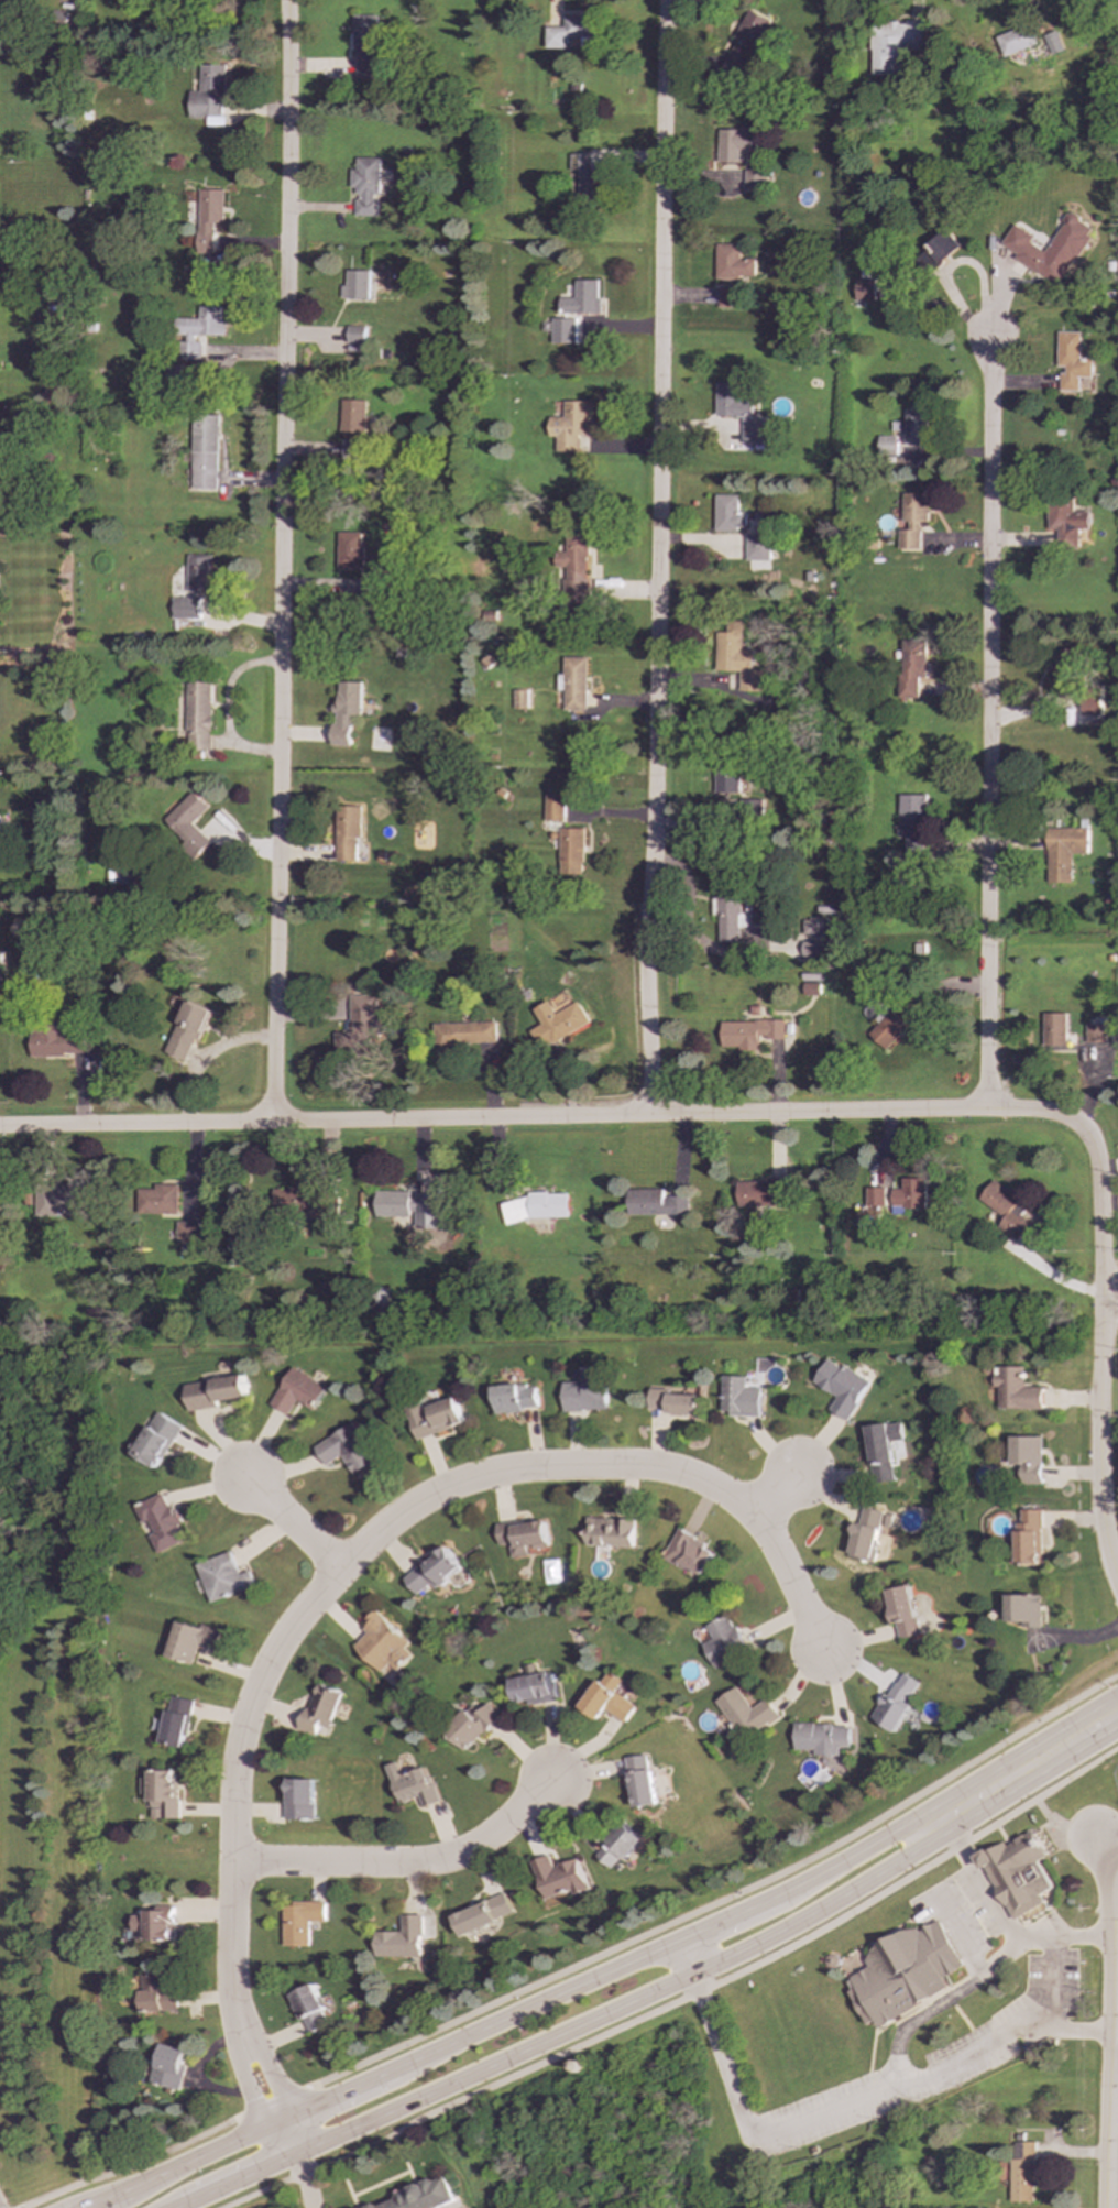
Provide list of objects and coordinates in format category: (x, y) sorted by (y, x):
building: (572, 32)
building: (1018, 40)
building: (745, 43)
building: (895, 43)
building: (1055, 43)
building: (363, 45)
building: (206, 96)
building: (737, 143)
building: (584, 178)
building: (755, 179)
building: (362, 186)
building: (206, 218)
building: (944, 245)
building: (1050, 249)
building: (733, 263)
road: (954, 266)
building: (353, 285)
building: (864, 288)
building: (581, 297)
building: (728, 297)
road: (922, 305)
road: (1002, 305)
building: (196, 330)
building: (562, 330)
building: (353, 335)
building: (1070, 361)
road: (1024, 385)
building: (739, 413)
building: (351, 416)
building: (568, 426)
building: (916, 427)
building: (888, 445)
building: (349, 449)
building: (202, 452)
road: (953, 455)
building: (727, 513)
building: (912, 521)
building: (1065, 523)
road: (989, 543)
building: (756, 547)
building: (349, 549)
road: (656, 557)
road: (278, 560)
building: (573, 565)
building: (198, 573)
building: (369, 587)
building: (185, 608)
building: (736, 657)
building: (910, 666)
building: (1064, 666)
building: (573, 682)
road: (952, 691)
building: (518, 699)
building: (1088, 703)
road: (1032, 707)
building: (346, 711)
building: (198, 714)
road: (987, 721)
building: (726, 778)
building: (553, 807)
building: (187, 822)
building: (912, 826)
building: (346, 831)
road: (986, 846)
building: (571, 852)
building: (1063, 852)
building: (124, 875)
building: (727, 911)
building: (814, 927)
building: (813, 948)
building: (810, 988)
road: (939, 992)
building: (557, 1023)
building: (891, 1025)
building: (358, 1027)
building: (1054, 1029)
building: (185, 1031)
building: (748, 1032)
building: (1096, 1032)
building: (461, 1035)
building: (56, 1042)
road: (205, 1057)
road: (775, 1113)
building: (759, 1193)
building: (875, 1195)
building: (909, 1195)
building: (157, 1200)
building: (57, 1201)
building: (302, 1201)
building: (654, 1203)
building: (412, 1207)
building: (537, 1207)
building: (1007, 1210)
building: (186, 1233)
building: (842, 1388)
building: (1017, 1389)
building: (212, 1391)
building: (296, 1391)
building: (583, 1397)
building: (739, 1397)
building: (514, 1398)
building: (672, 1402)
building: (434, 1418)
building: (154, 1440)
building: (344, 1450)
building: (883, 1450)
building: (1029, 1457)
road: (772, 1494)
building: (158, 1522)
road: (287, 1524)
road: (379, 1530)
building: (607, 1532)
building: (865, 1534)
building: (520, 1537)
building: (1029, 1538)
building: (687, 1553)
building: (430, 1571)
building: (220, 1577)
building: (1024, 1610)
building: (902, 1613)
building: (190, 1641)
building: (376, 1641)
building: (721, 1641)
building: (531, 1690)
building: (605, 1699)
building: (895, 1702)
building: (317, 1709)
building: (743, 1713)
building: (175, 1721)
building: (470, 1725)
building: (818, 1738)
road: (1098, 1759)
road: (1032, 1764)
building: (636, 1781)
building: (410, 1785)
building: (160, 1793)
building: (297, 1800)
road: (1060, 1825)
road: (1107, 1841)
building: (613, 1845)
road: (403, 1863)
building: (1017, 1873)
building: (553, 1877)
road: (1114, 1911)
building: (478, 1914)
building: (298, 1922)
building: (155, 1923)
building: (395, 1938)
road: (1030, 1942)
road: (1049, 1953)
road: (1114, 1955)
road: (993, 1959)
road: (579, 1964)
building: (900, 1974)
road: (1114, 1982)
building: (157, 1994)
building: (309, 2008)
road: (659, 2009)
road: (517, 2012)
road: (1109, 2021)
road: (571, 2030)
road: (1112, 2052)
building: (171, 2066)
road: (278, 2089)
road: (252, 2100)
road: (833, 2107)
building: (1023, 2172)
road: (303, 2180)
building: (420, 2195)

